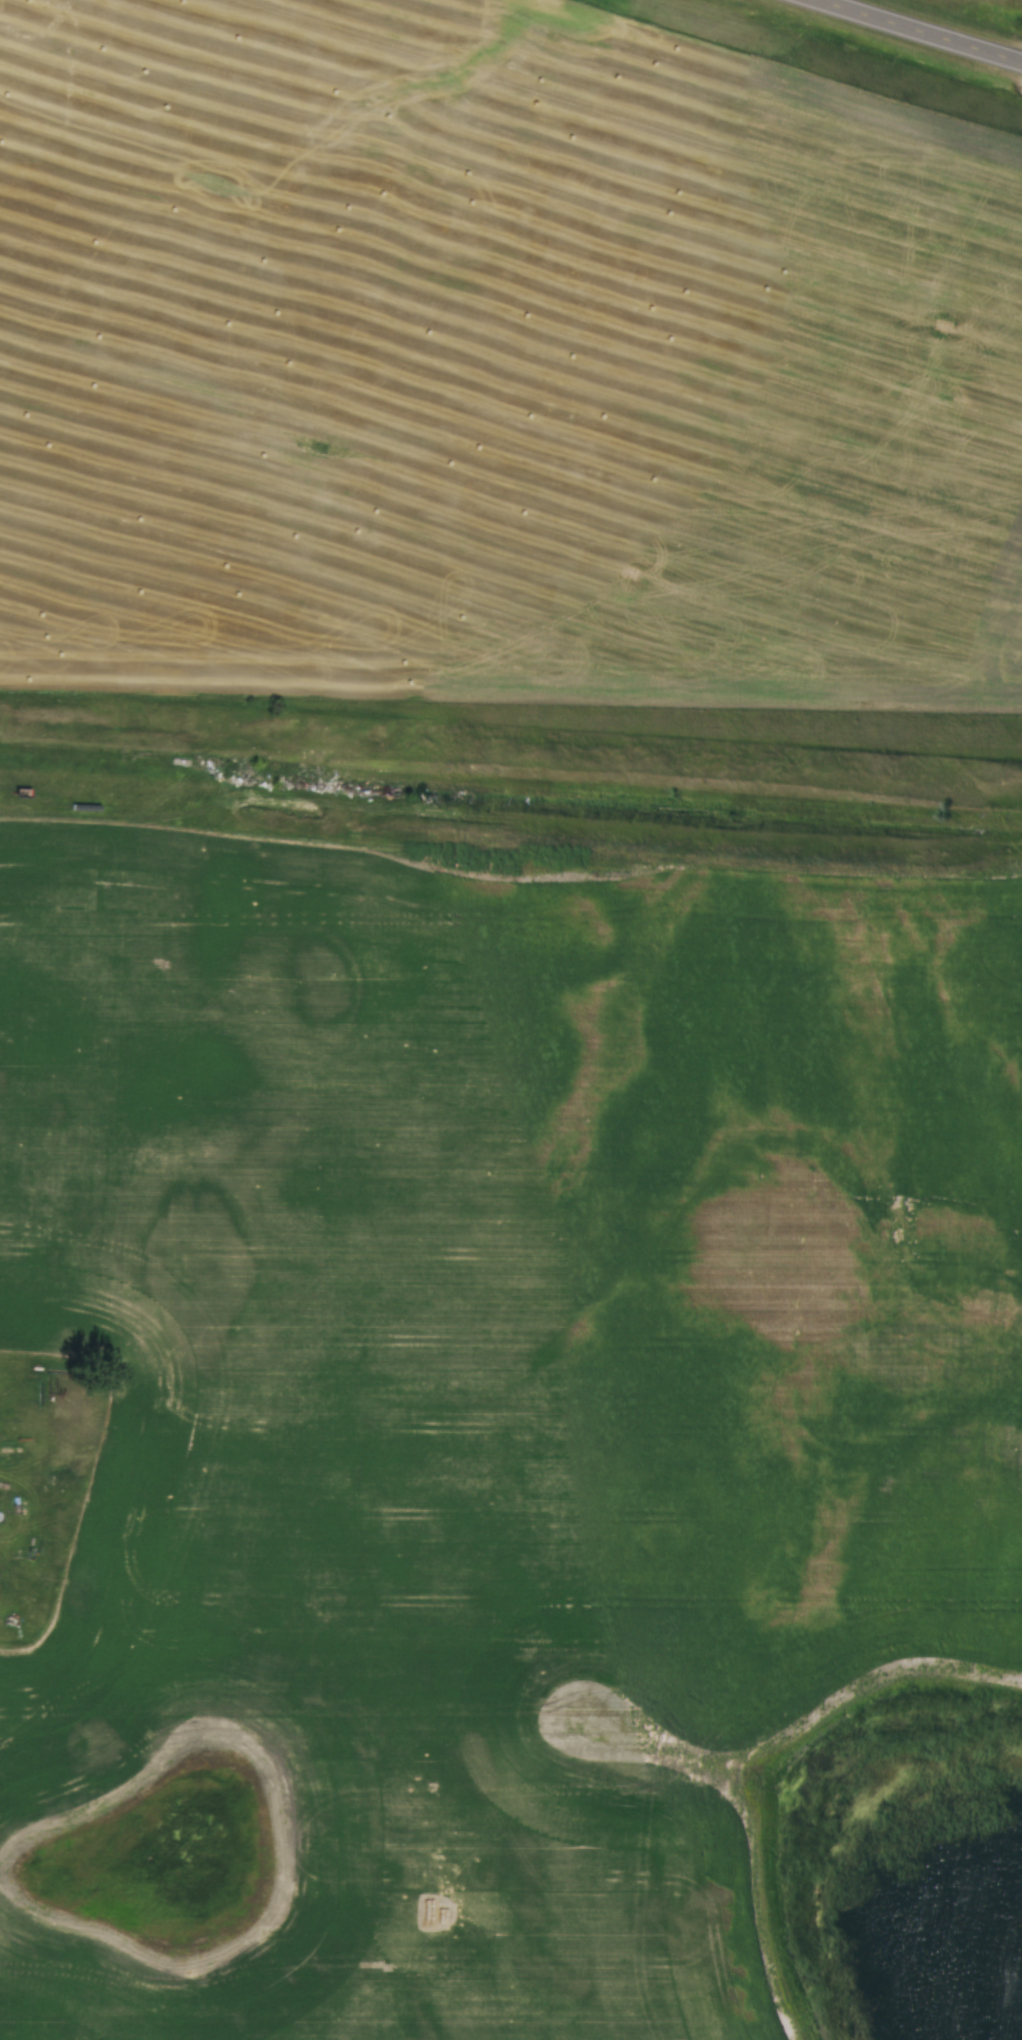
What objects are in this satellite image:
road: (911, 33)

